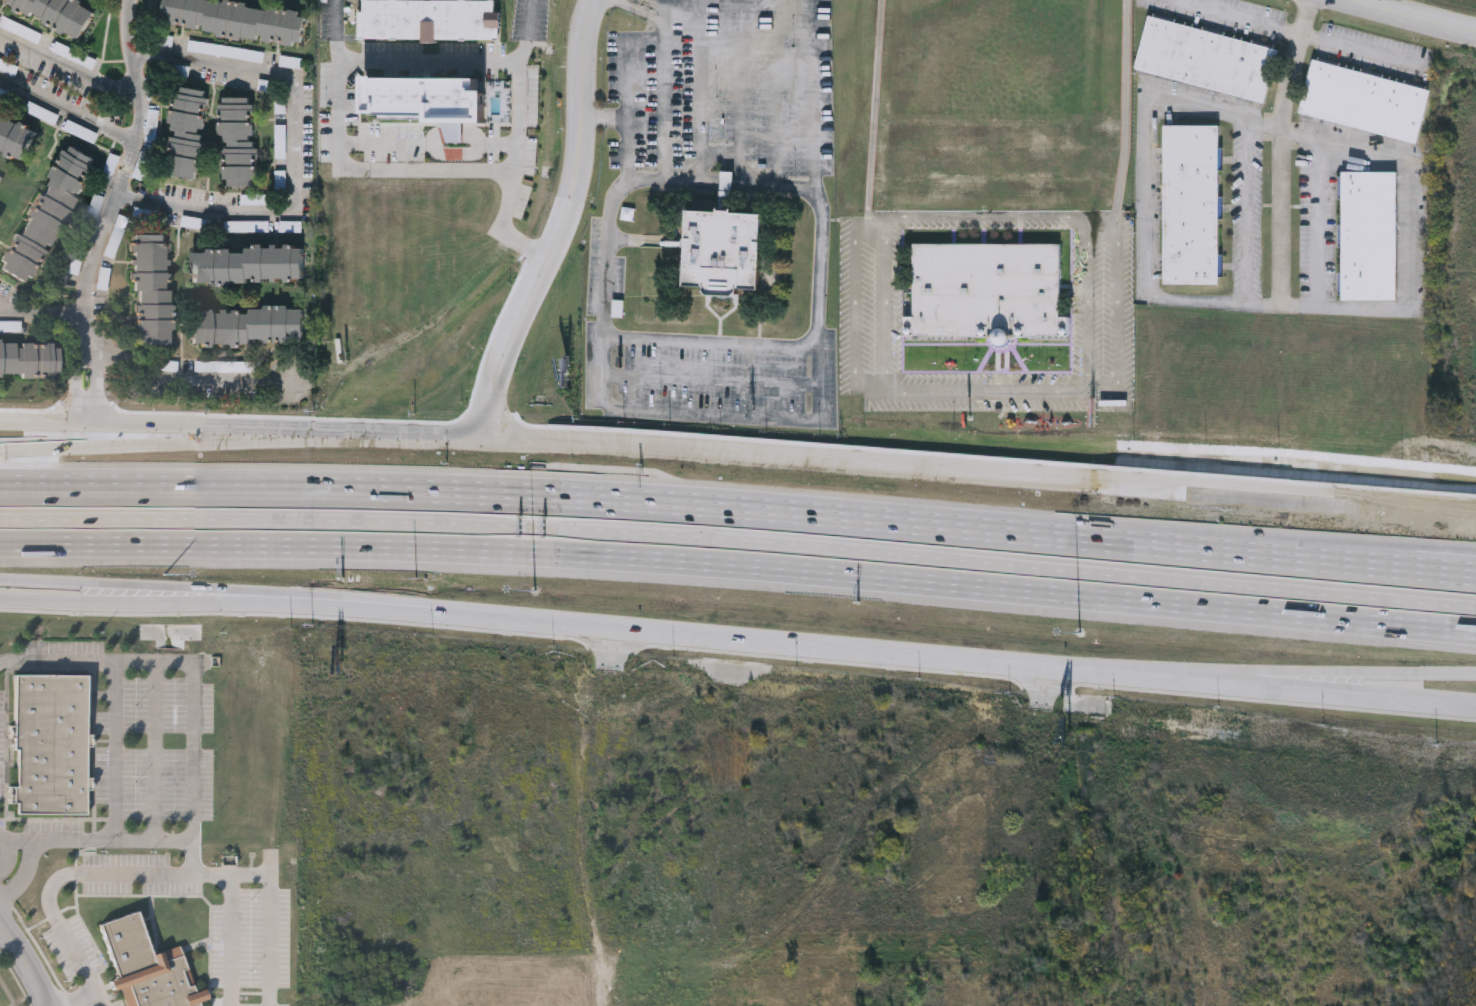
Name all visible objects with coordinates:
road: (656, 3)
road: (638, 10)
building: (56, 14)
road: (1410, 17)
road: (1236, 18)
building: (430, 19)
building: (237, 20)
road: (338, 31)
road: (628, 42)
road: (1361, 51)
building: (1207, 61)
road: (1293, 64)
road: (70, 70)
building: (1365, 103)
road: (67, 114)
building: (433, 116)
road: (517, 116)
road: (603, 119)
building: (187, 133)
road: (581, 133)
building: (15, 137)
road: (339, 137)
building: (239, 142)
road: (297, 157)
road: (128, 162)
road: (675, 180)
road: (728, 183)
road: (774, 187)
road: (1147, 194)
road: (1118, 195)
building: (1193, 206)
road: (1245, 211)
building: (48, 214)
road: (992, 217)
road: (1319, 222)
building: (1369, 236)
building: (725, 252)
building: (249, 265)
building: (152, 290)
building: (987, 293)
road: (885, 302)
road: (1087, 304)
road: (1400, 310)
road: (14, 318)
road: (51, 319)
road: (857, 322)
building: (248, 327)
road: (88, 337)
road: (505, 344)
road: (770, 346)
building: (29, 361)
road: (177, 379)
road: (708, 379)
road: (80, 390)
road: (95, 390)
road: (713, 415)
road: (40, 426)
road: (189, 431)
road: (393, 435)
road: (149, 443)
road: (918, 468)
road: (1412, 506)
road: (739, 507)
road: (1411, 516)
road: (739, 539)
road: (739, 566)
road: (154, 589)
road: (154, 607)
road: (459, 617)
road: (808, 646)
road: (1241, 671)
road: (934, 682)
road: (1043, 684)
road: (1242, 686)
building: (51, 746)
road: (198, 750)
road: (115, 753)
road: (10, 856)
road: (197, 859)
road: (23, 873)
road: (131, 876)
road: (1304, 895)
road: (276, 922)
road: (26, 967)
building: (146, 969)
road: (101, 1001)
road: (607, 1002)

